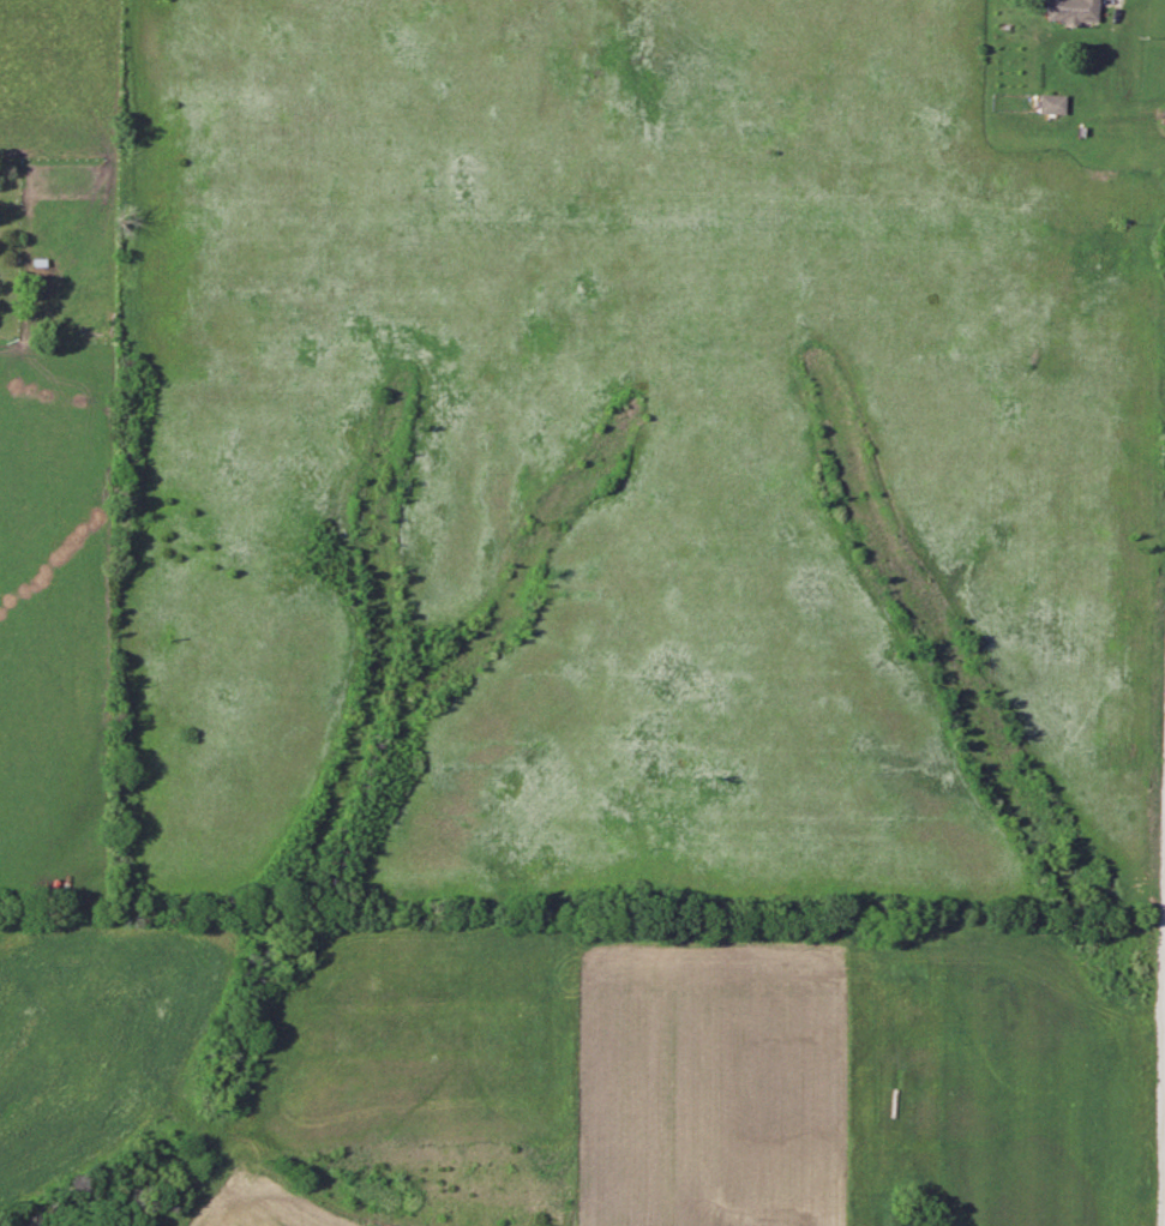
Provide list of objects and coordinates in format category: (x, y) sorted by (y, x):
building: (1070, 11)
building: (1050, 104)

